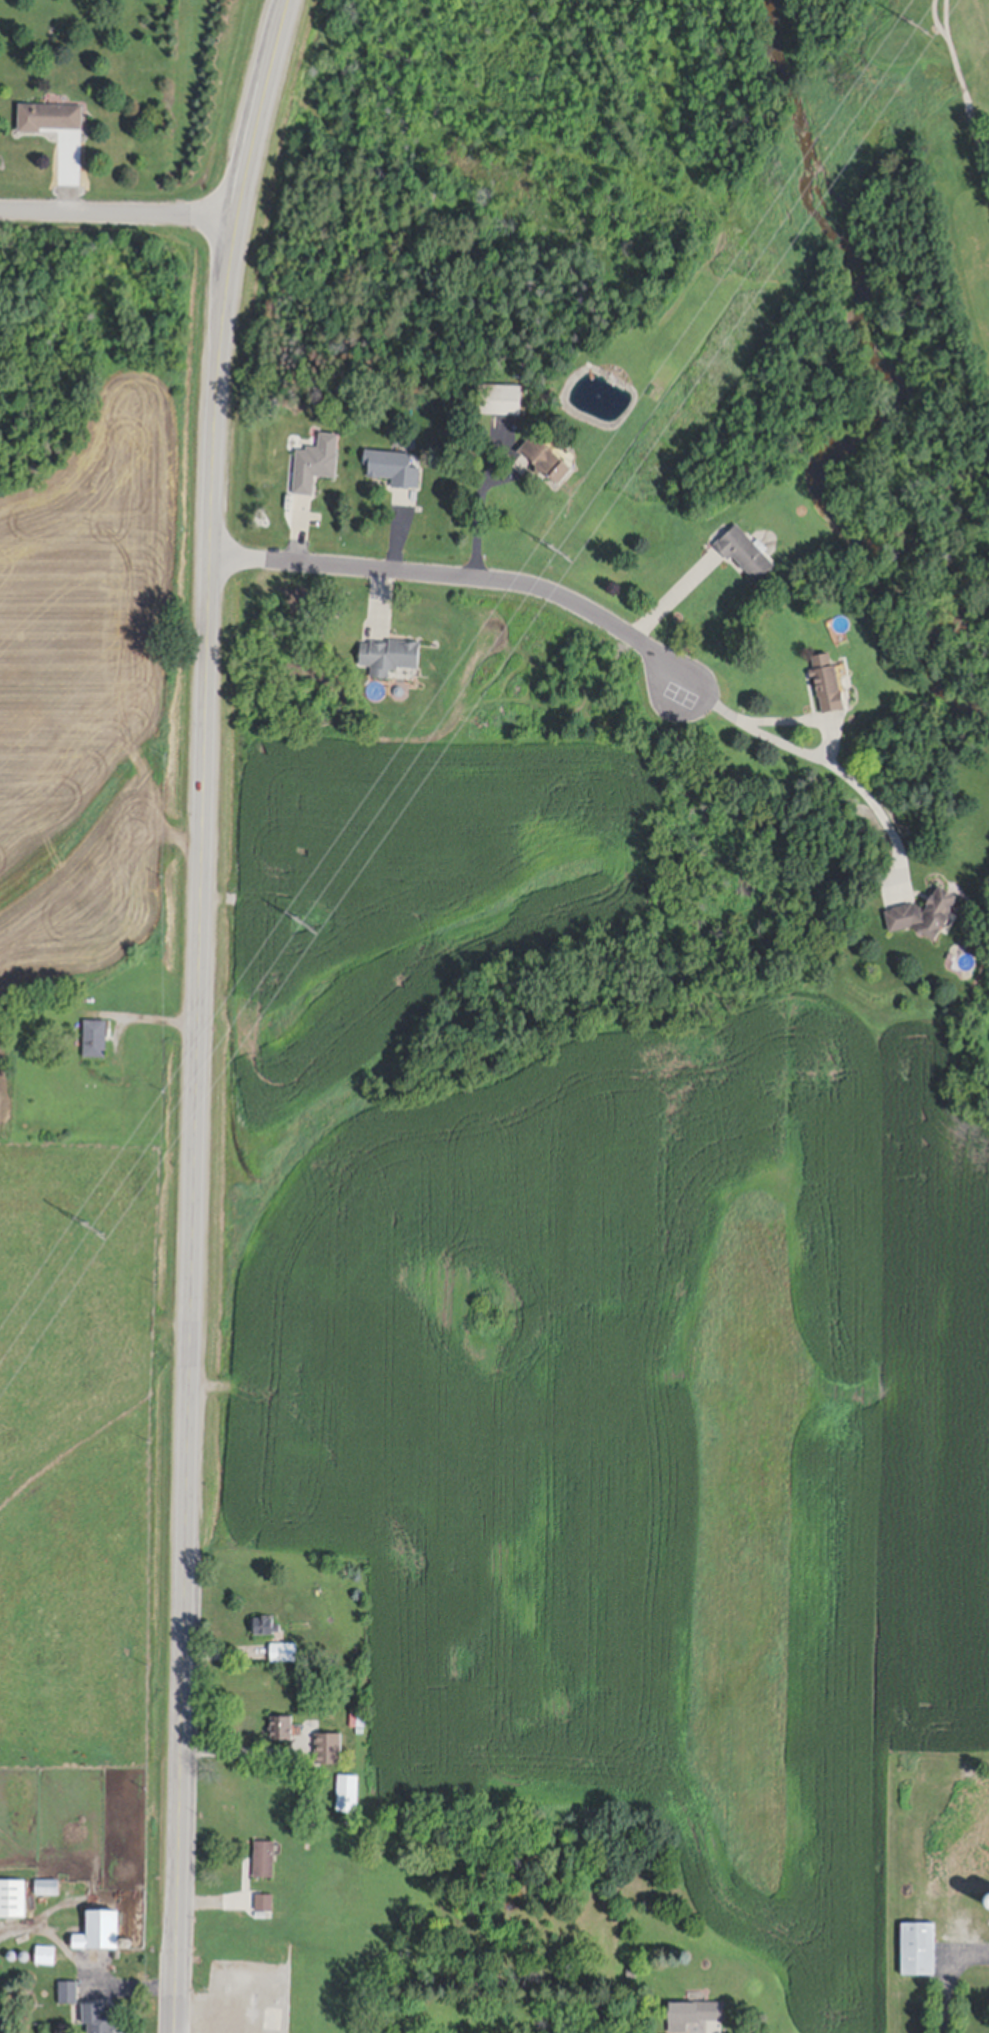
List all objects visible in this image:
power tower: (920, 26)
building: (50, 121)
park: (932, 146)
road: (119, 216)
building: (500, 405)
building: (452, 406)
building: (546, 468)
building: (393, 472)
building: (313, 473)
road: (479, 504)
road: (297, 532)
road: (393, 533)
power tower: (562, 549)
building: (746, 561)
road: (456, 578)
road: (674, 600)
road: (379, 610)
building: (390, 661)
quarry: (97, 667)
building: (77, 691)
building: (827, 692)
park: (675, 698)
road: (802, 722)
road: (824, 765)
power tower: (304, 919)
building: (924, 925)
road: (200, 1012)
road: (144, 1020)
building: (94, 1032)
power tower: (94, 1225)
building: (265, 1620)
building: (283, 1648)
building: (353, 1715)
building: (281, 1723)
building: (328, 1744)
road: (242, 1752)
building: (347, 1789)
building: (972, 1829)
building: (263, 1855)
building: (47, 1884)
building: (13, 1894)
building: (988, 1898)
building: (264, 1899)
building: (100, 1926)
building: (126, 1941)
building: (918, 1944)
building: (45, 1952)
building: (12, 1955)
building: (24, 1956)
road: (82, 1968)
building: (631, 1970)
road: (948, 1977)
building: (266, 1987)
building: (67, 1989)
building: (692, 2010)
building: (100, 2017)
road: (217, 2026)

